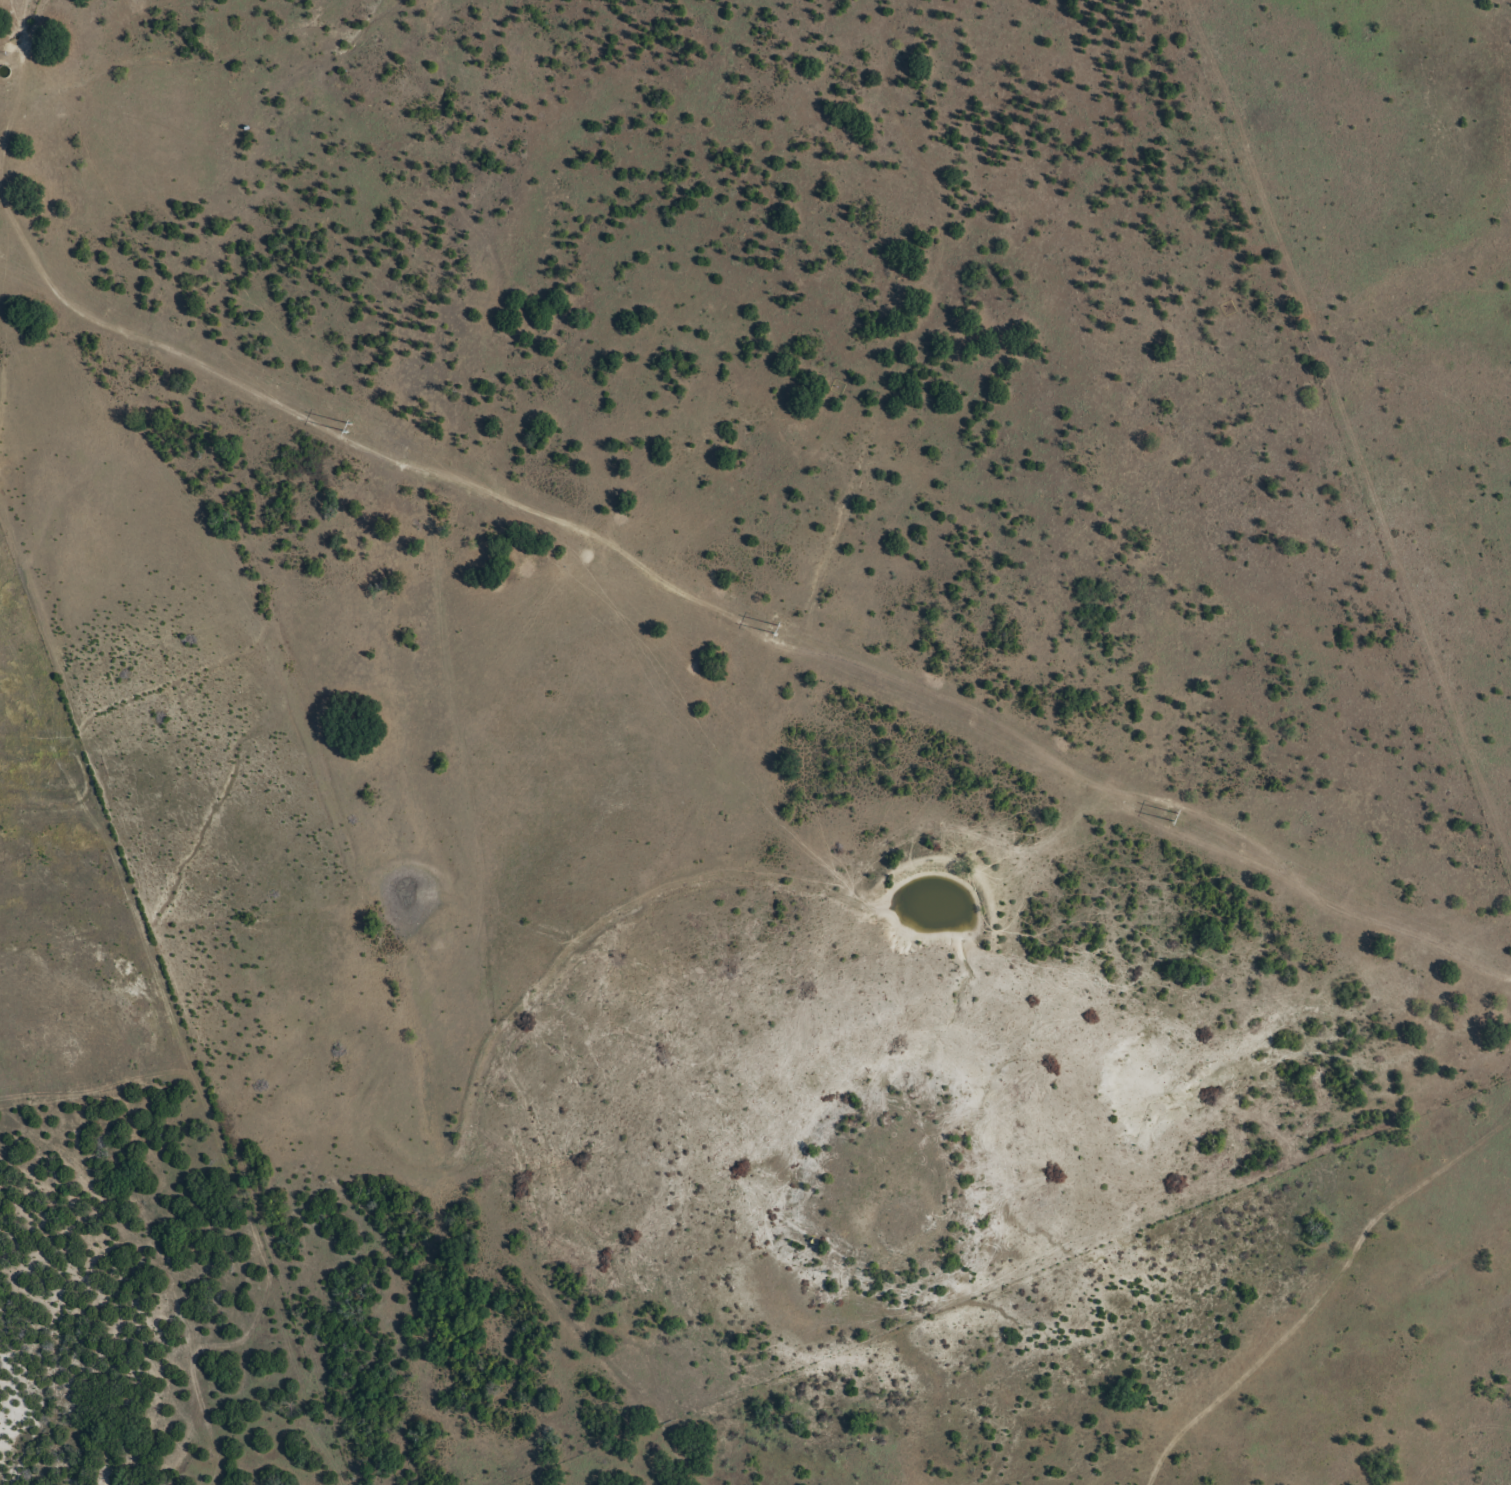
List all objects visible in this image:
power tower: (105, 314)
power tower: (404, 454)
power tower: (700, 594)
power tower: (969, 721)
power tower: (1240, 848)
road: (1356, 1298)

